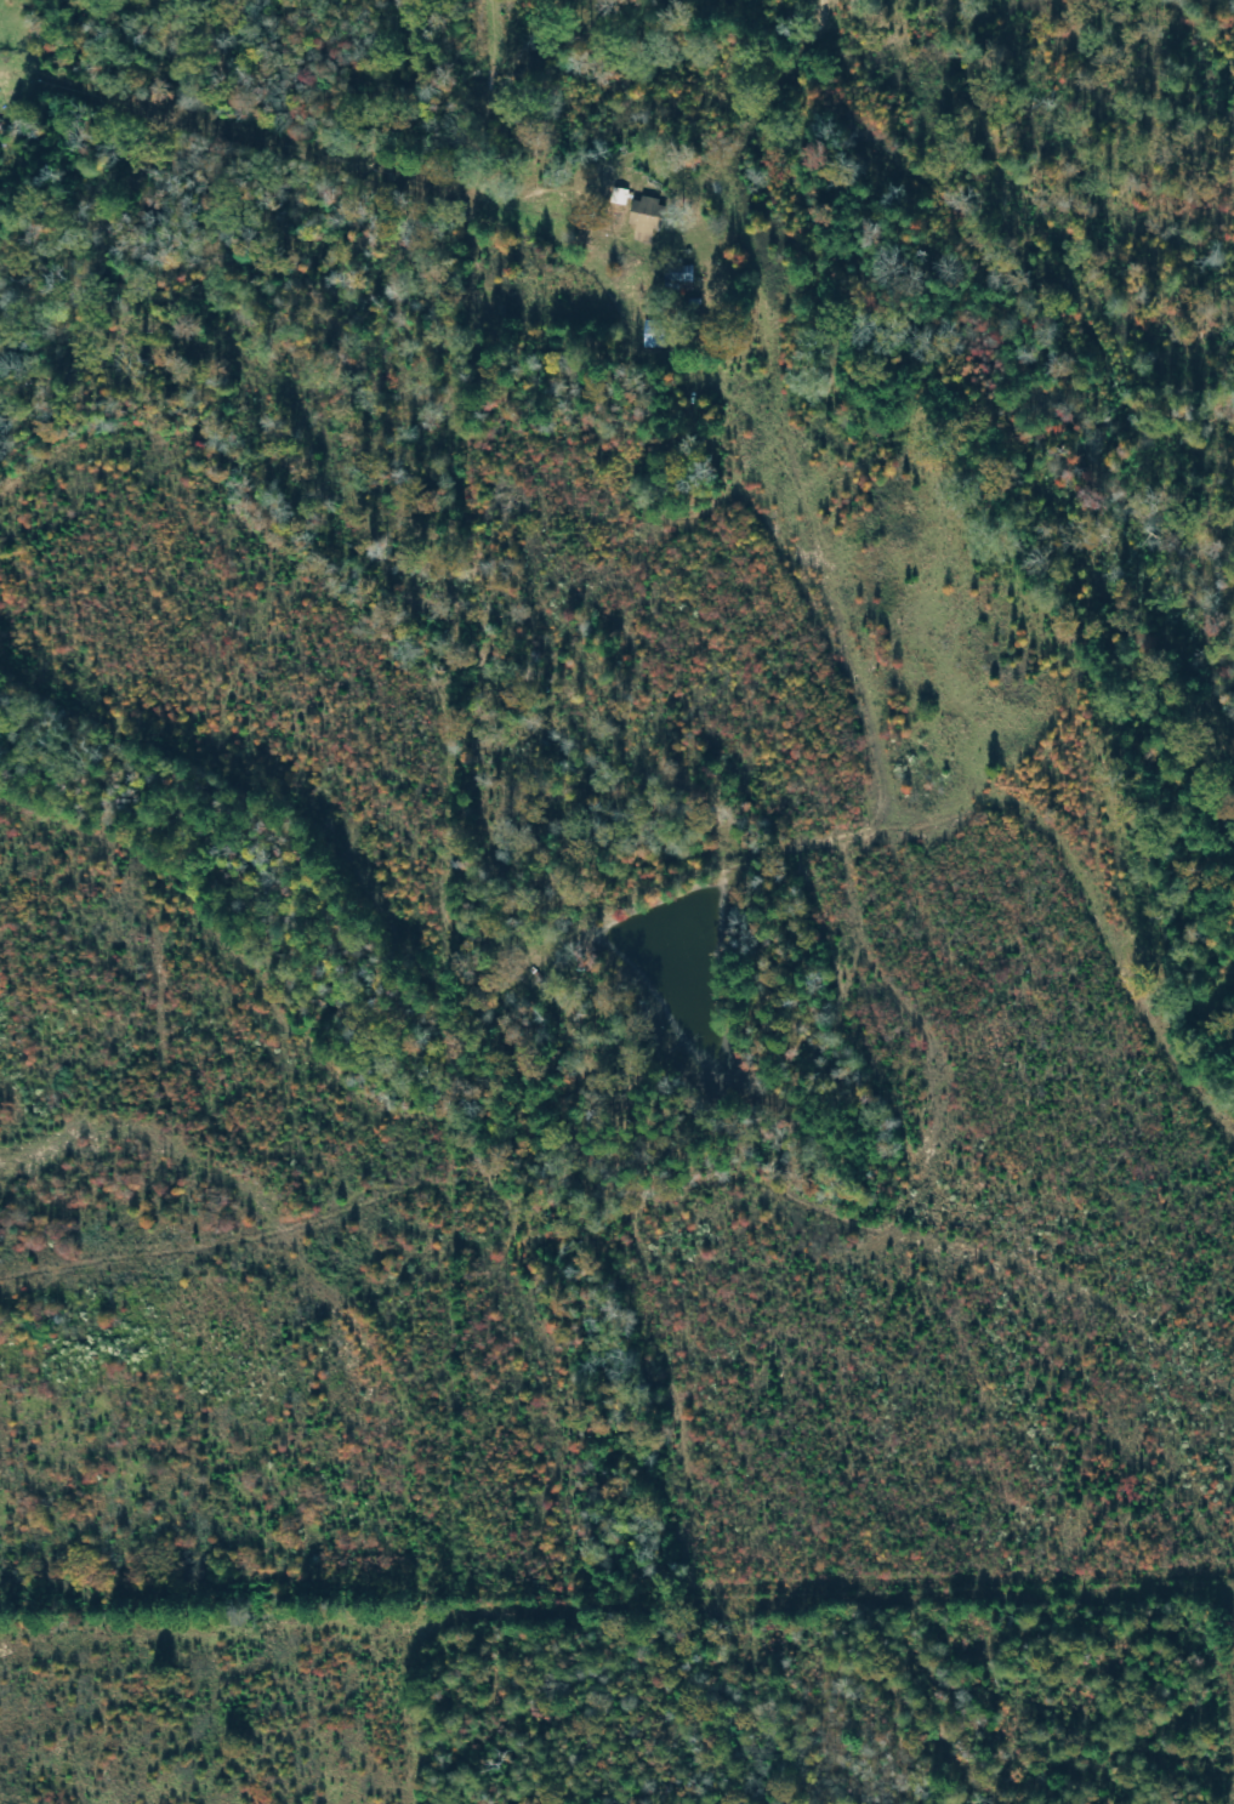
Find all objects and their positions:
road: (473, 159)
building: (638, 211)

